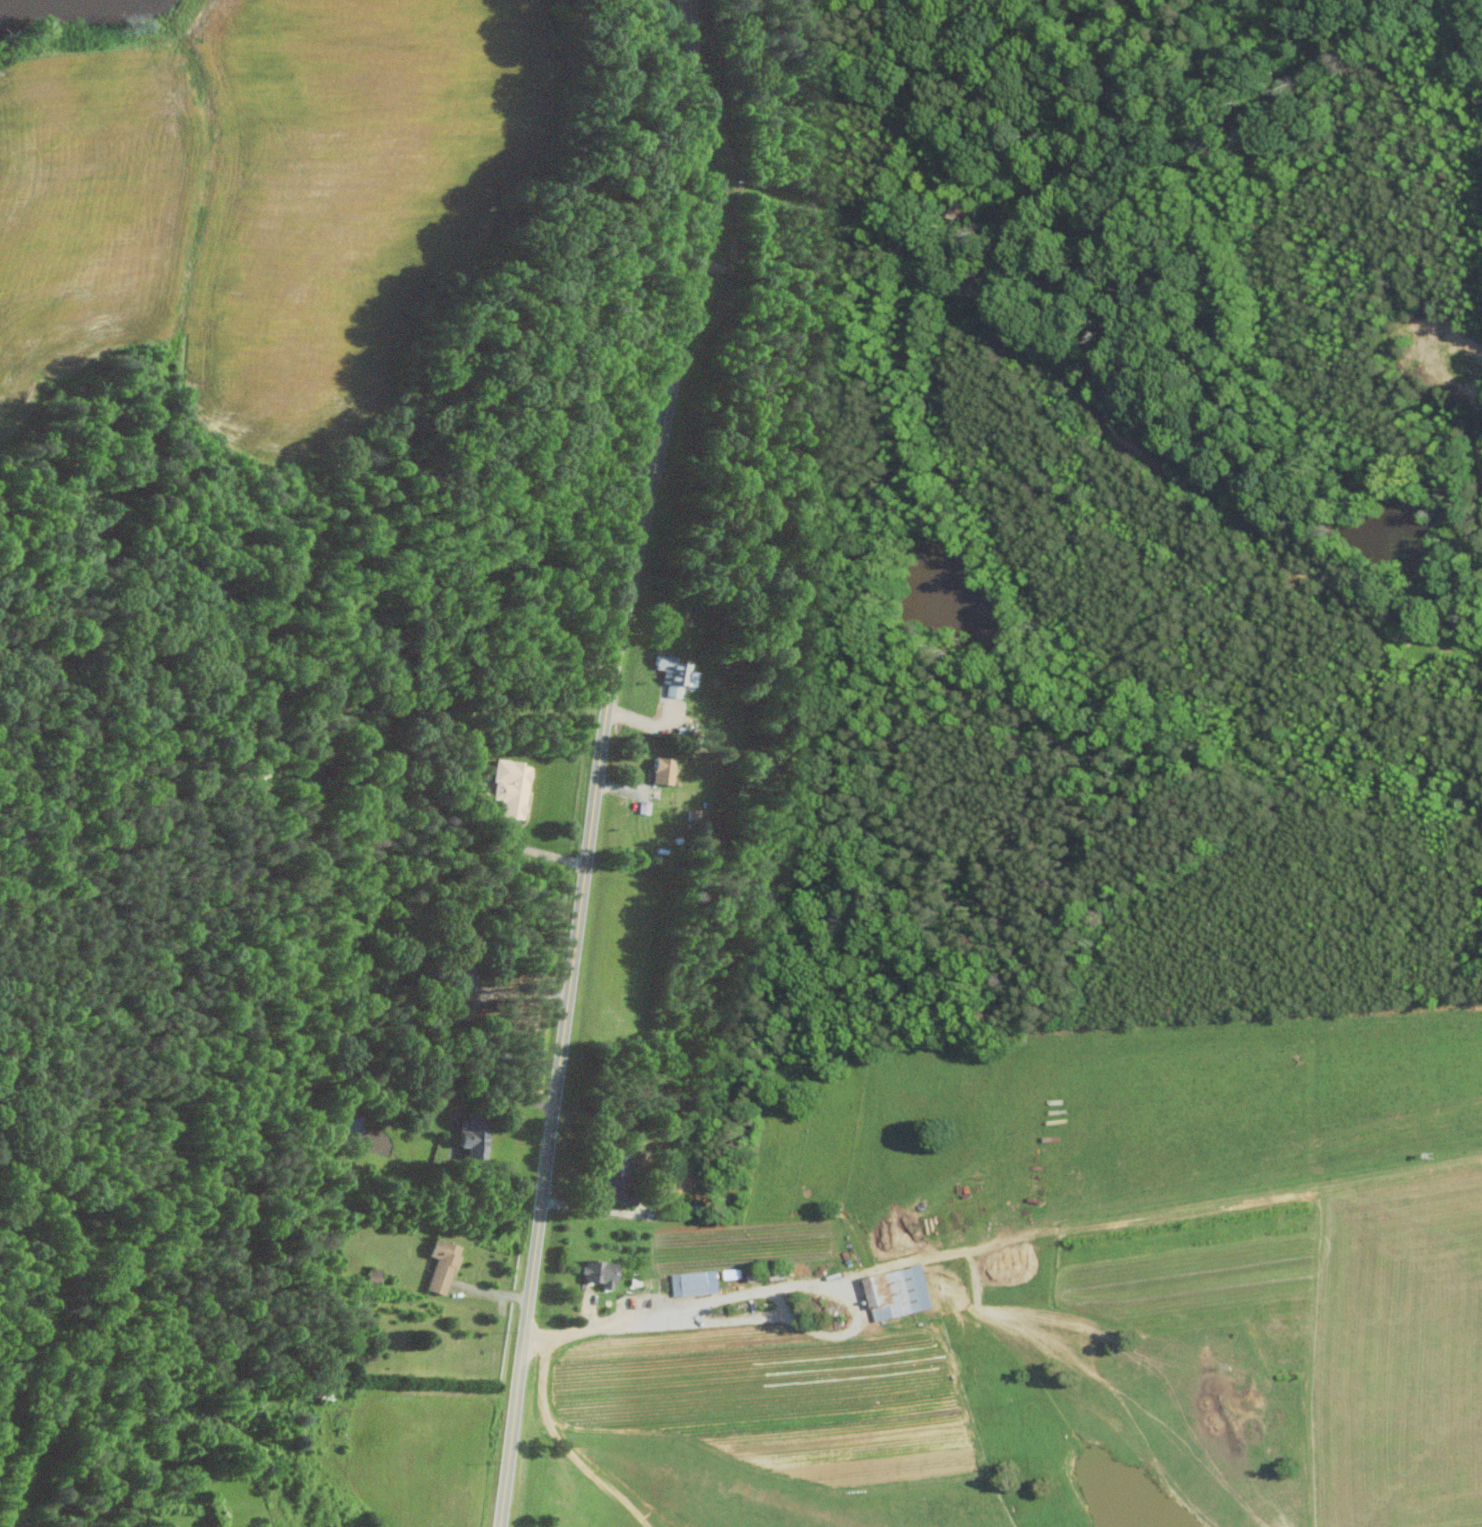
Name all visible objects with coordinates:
building: (675, 672)
road: (601, 761)
building: (666, 769)
building: (511, 787)
road: (539, 852)
building: (464, 975)
road: (461, 1129)
building: (478, 1135)
building: (622, 1179)
road: (593, 1206)
road: (892, 1263)
building: (445, 1264)
building: (604, 1272)
building: (698, 1282)
road: (808, 1287)
road: (493, 1292)
building: (903, 1292)
road: (595, 1326)
road: (567, 1447)

